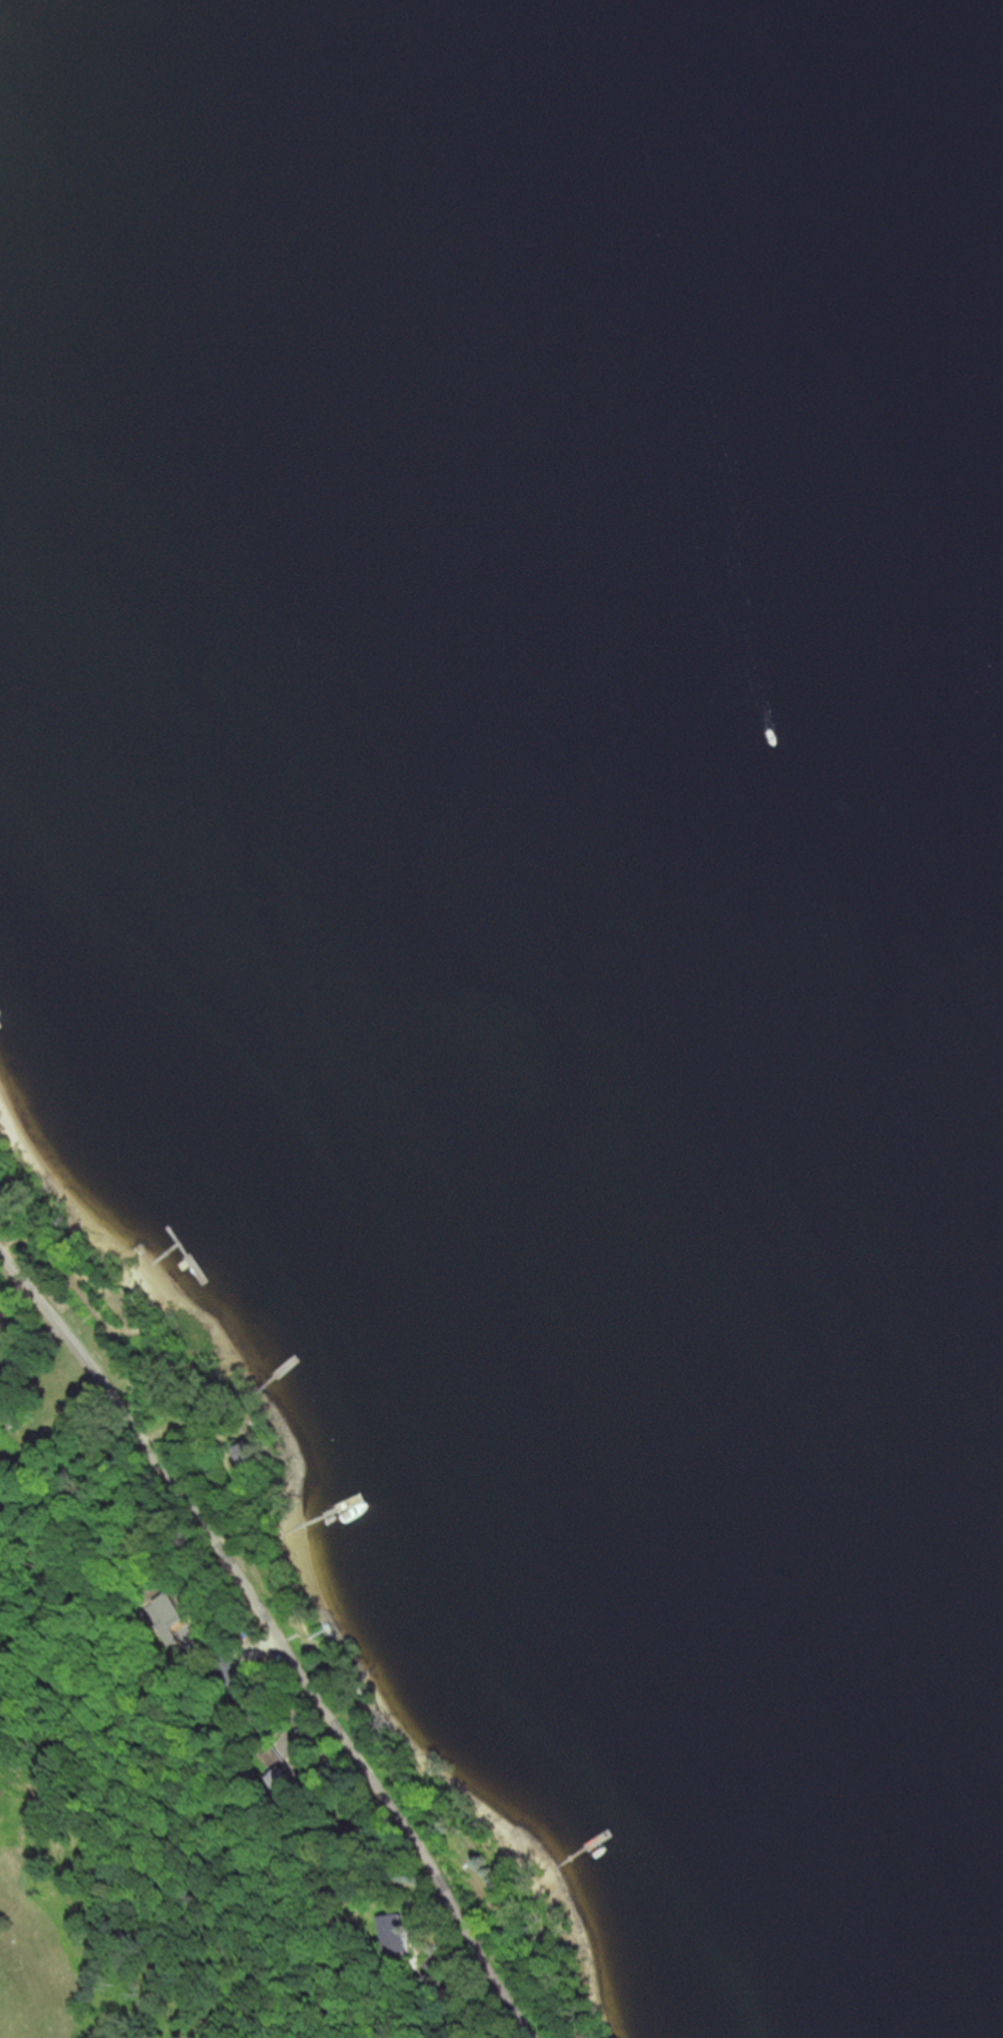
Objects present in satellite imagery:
river: (923, 395)
building: (13, 1405)
building: (250, 1457)
road: (278, 1635)
building: (397, 1930)

